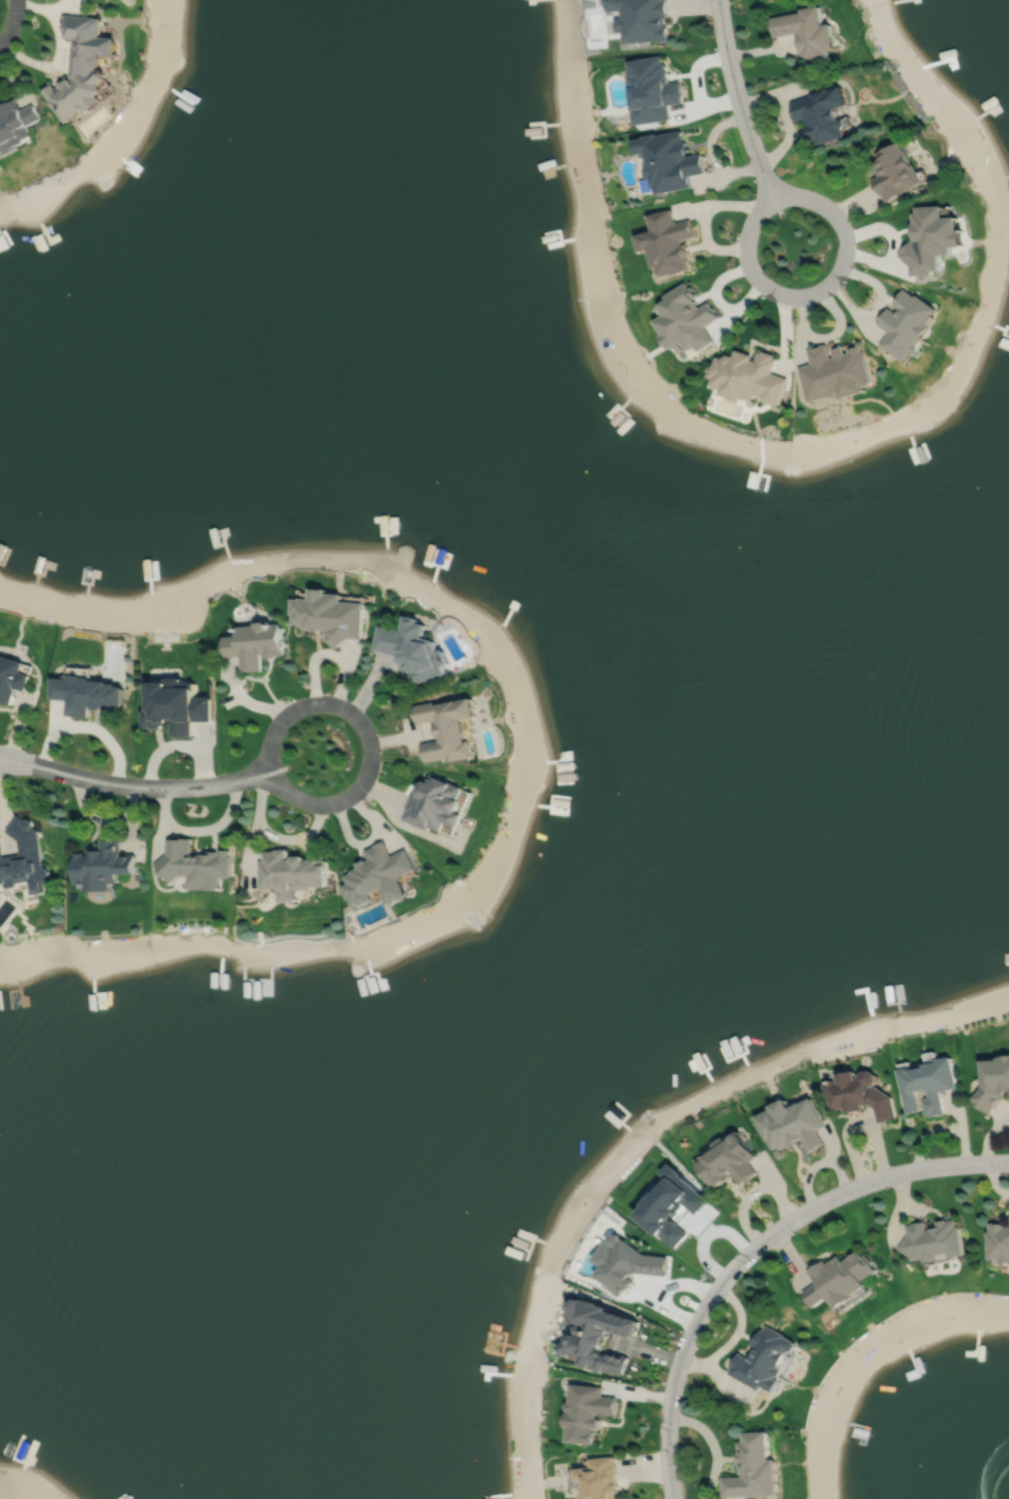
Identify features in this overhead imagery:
building: (640, 19)
road: (12, 23)
building: (806, 33)
road: (60, 49)
building: (82, 68)
building: (651, 91)
road: (738, 102)
building: (821, 115)
building: (15, 124)
building: (668, 162)
building: (895, 173)
building: (930, 241)
building: (665, 244)
road: (817, 291)
building: (685, 318)
building: (906, 322)
building: (836, 372)
building: (748, 376)
building: (832, 406)
building: (330, 615)
building: (255, 644)
building: (414, 649)
building: (11, 678)
building: (85, 695)
building: (174, 707)
building: (447, 729)
road: (367, 734)
road: (18, 759)
road: (18, 765)
road: (153, 787)
building: (435, 807)
building: (24, 859)
building: (194, 865)
building: (103, 867)
building: (292, 874)
building: (380, 877)
building: (992, 1080)
building: (927, 1081)
building: (860, 1092)
building: (792, 1122)
road: (857, 1126)
building: (729, 1159)
building: (933, 1239)
building: (998, 1240)
road: (753, 1247)
building: (627, 1262)
building: (838, 1278)
building: (599, 1337)
building: (764, 1360)
building: (588, 1411)
building: (752, 1469)
building: (600, 1478)

